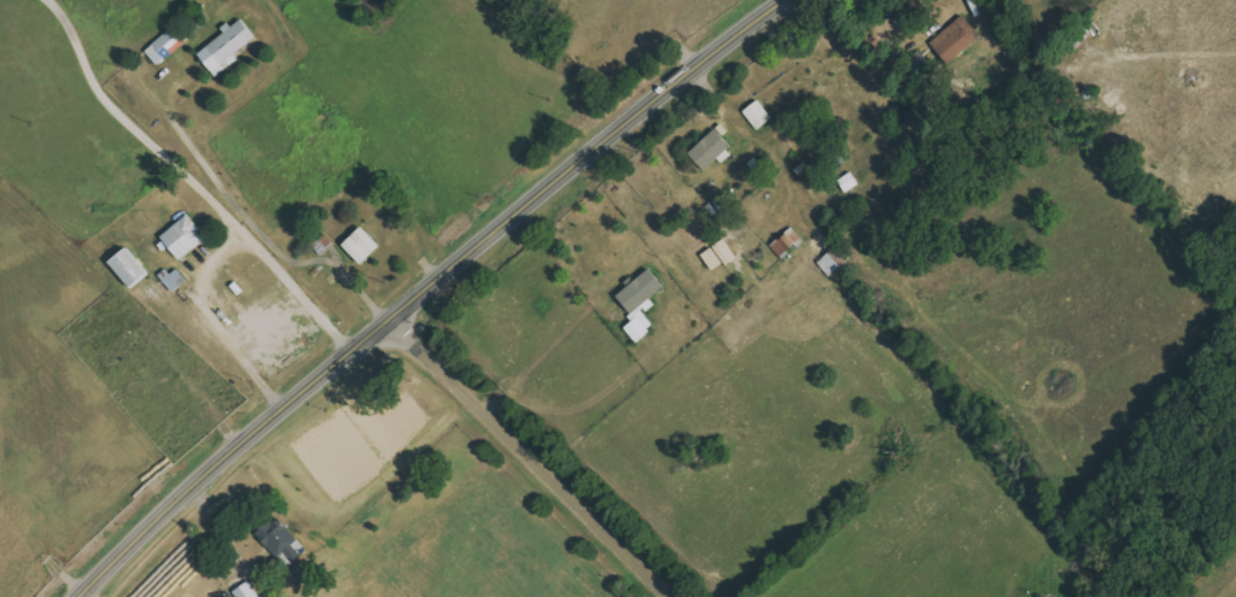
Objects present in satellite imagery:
building: (954, 40)
building: (167, 47)
building: (229, 47)
building: (759, 115)
road: (139, 129)
building: (713, 150)
road: (252, 223)
building: (795, 236)
building: (187, 238)
building: (366, 246)
building: (785, 246)
road: (214, 252)
building: (132, 269)
building: (645, 291)
road: (426, 292)
building: (640, 330)
road: (538, 456)
building: (284, 540)
building: (250, 591)

